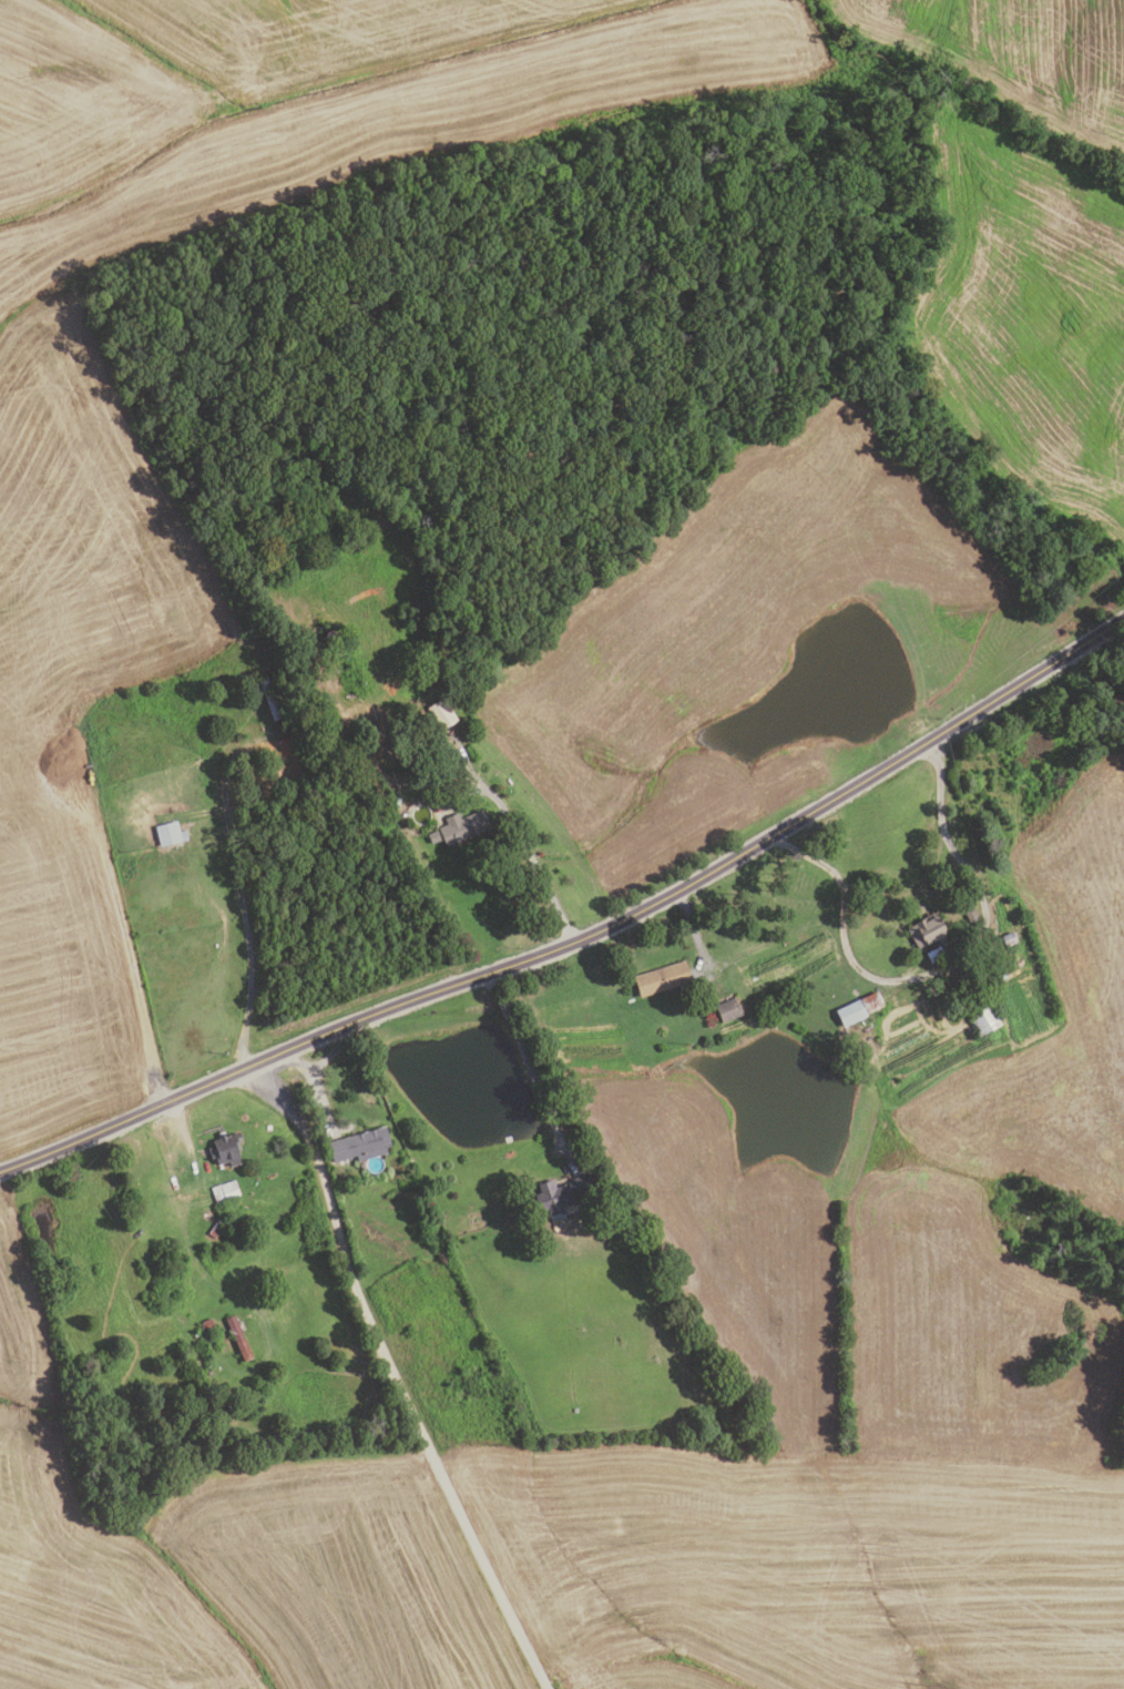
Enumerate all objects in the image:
crop: (1016, 55)
crop: (1025, 318)
crop: (114, 606)
crop: (719, 638)
building: (273, 698)
building: (439, 713)
building: (408, 741)
building: (472, 753)
building: (445, 756)
road: (458, 798)
building: (460, 826)
building: (171, 833)
building: (430, 837)
road: (530, 854)
road: (242, 910)
building: (971, 913)
building: (927, 930)
road: (125, 934)
road: (583, 937)
building: (1005, 939)
building: (932, 954)
road: (941, 968)
building: (998, 973)
building: (657, 980)
building: (933, 991)
building: (855, 1008)
building: (724, 1009)
building: (981, 1020)
road: (524, 1062)
building: (358, 1146)
building: (227, 1147)
building: (225, 1192)
building: (565, 1194)
road: (330, 1218)
building: (218, 1227)
building: (207, 1332)
building: (241, 1337)
road: (467, 1536)

